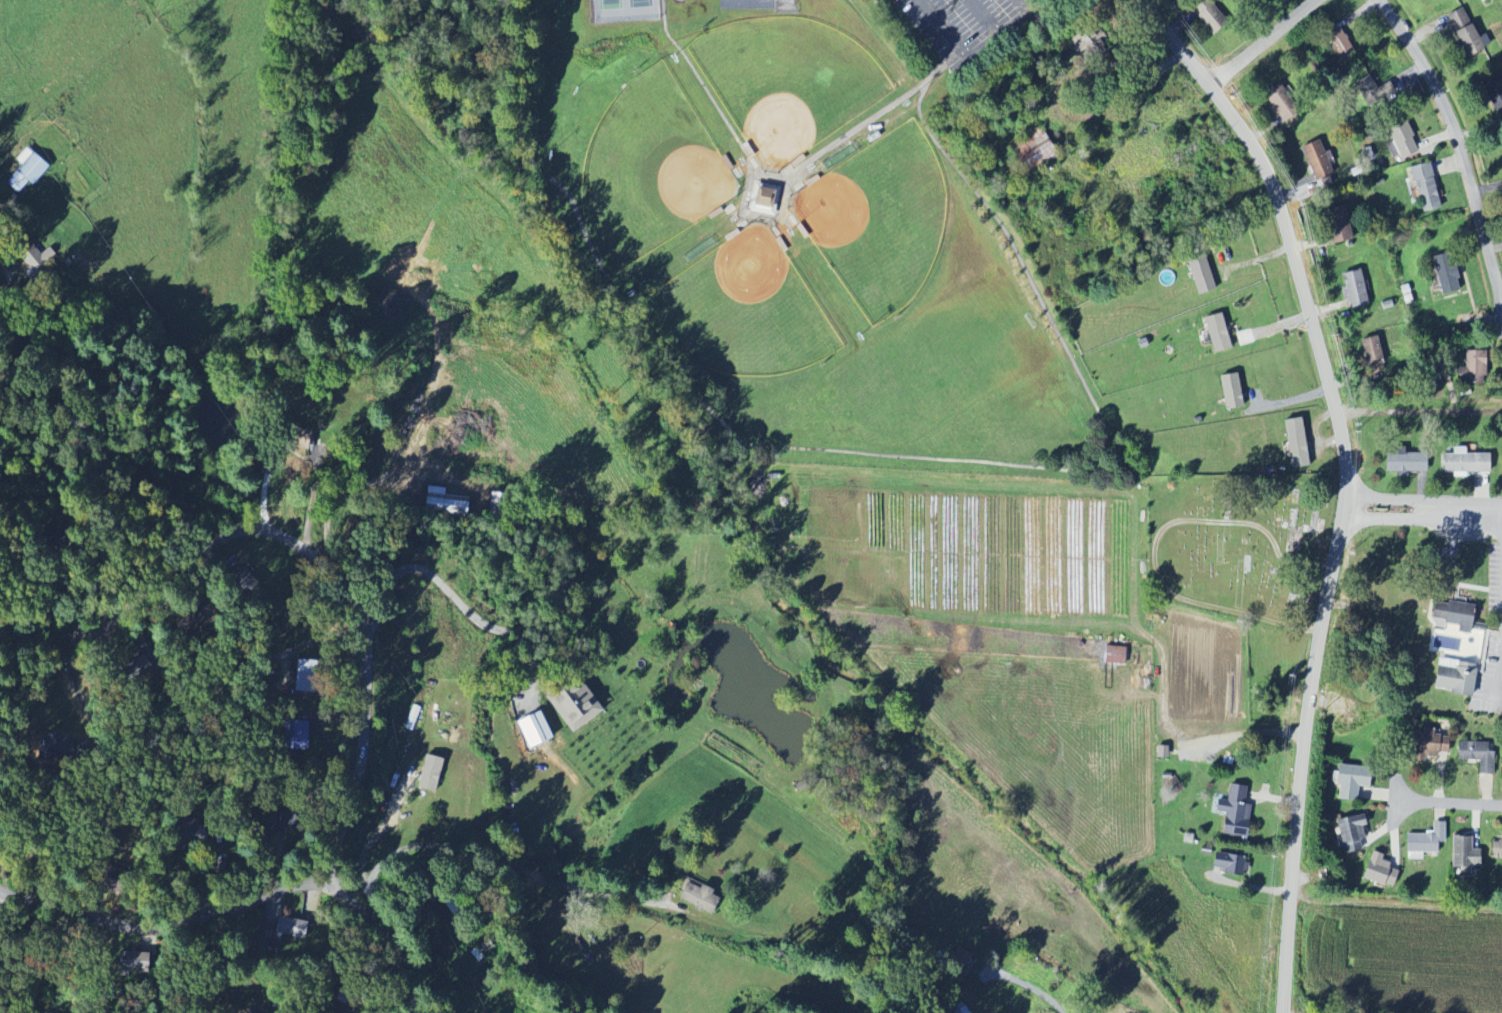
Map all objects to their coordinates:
park: (748, 3)
road: (1026, 4)
park: (625, 10)
building: (1214, 19)
road: (932, 31)
building: (1461, 32)
building: (1336, 41)
road: (1263, 42)
building: (1090, 45)
road: (1088, 60)
park: (788, 80)
road: (708, 90)
building: (1369, 90)
building: (1493, 97)
building: (1277, 102)
road: (1112, 103)
road: (869, 121)
road: (207, 134)
building: (1401, 138)
road: (1459, 142)
building: (1037, 147)
building: (1314, 159)
park: (649, 169)
building: (27, 170)
building: (767, 199)
road: (783, 216)
park: (878, 217)
building: (1335, 224)
park: (805, 230)
road: (1290, 239)
building: (1445, 279)
building: (1351, 287)
park: (741, 307)
building: (1213, 333)
building: (1369, 350)
building: (1470, 367)
building: (1227, 391)
building: (1292, 443)
road: (932, 456)
building: (1402, 462)
building: (1463, 462)
building: (1501, 462)
road: (1394, 498)
building: (500, 507)
road: (1472, 507)
road: (1394, 517)
park: (1241, 546)
building: (241, 577)
road: (460, 602)
building: (1448, 615)
road: (55, 631)
road: (57, 657)
road: (365, 672)
building: (307, 675)
road: (1499, 680)
building: (577, 705)
building: (536, 729)
building: (295, 735)
building: (1425, 744)
building: (55, 746)
building: (1474, 755)
building: (1501, 760)
road: (1302, 763)
building: (433, 772)
building: (1347, 781)
road: (1446, 803)
building: (1229, 809)
building: (1347, 833)
building: (1422, 840)
building: (1496, 846)
building: (1461, 853)
road: (490, 858)
building: (1226, 863)
building: (1376, 871)
building: (702, 896)
road: (167, 923)
building: (291, 927)
building: (134, 963)
building: (961, 1010)

